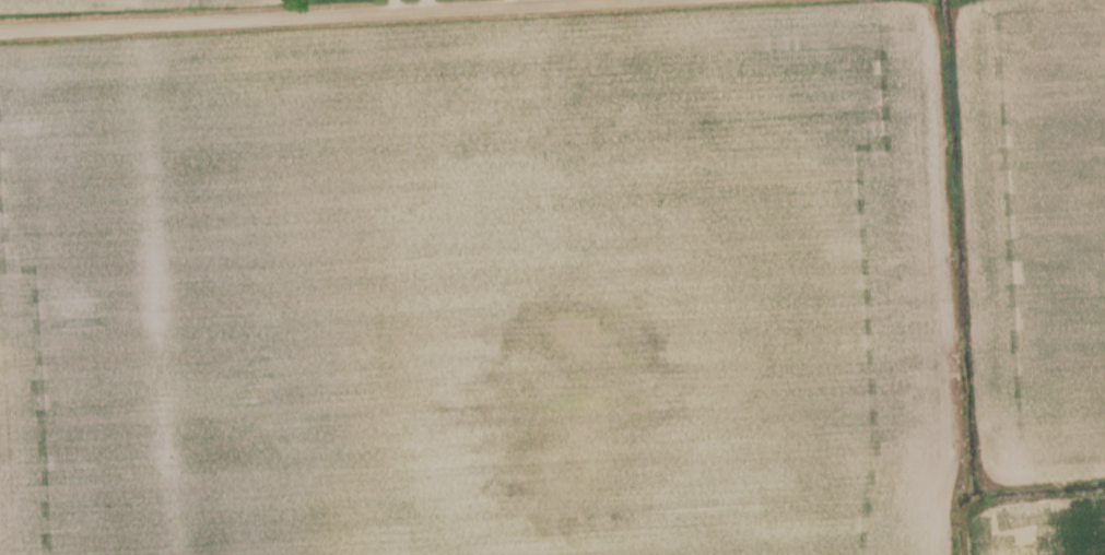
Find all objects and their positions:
road: (259, 12)

